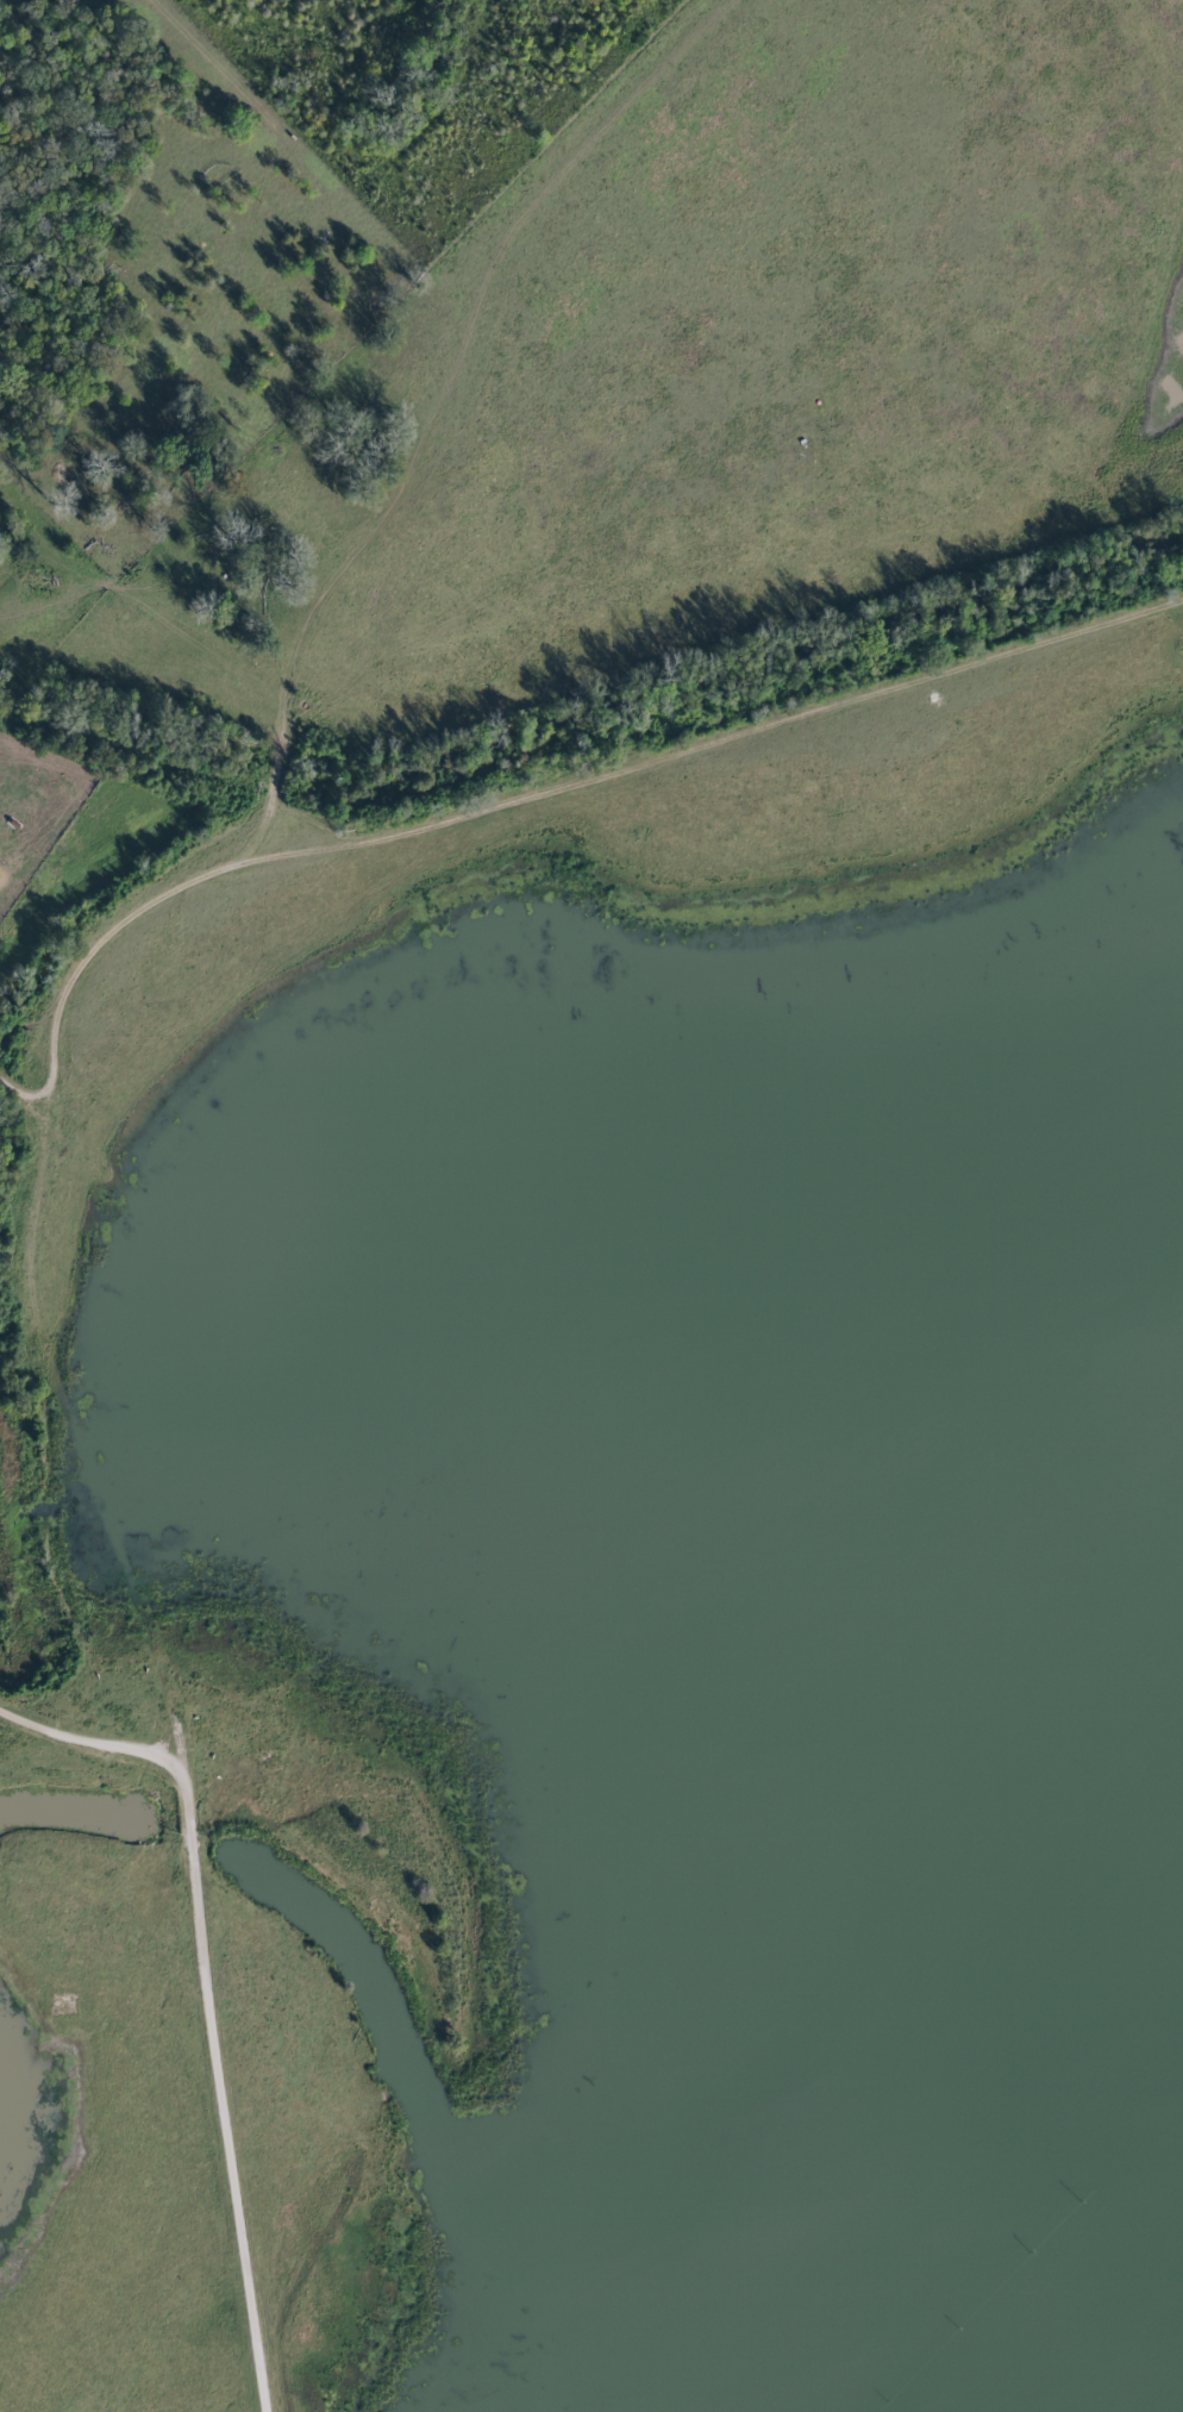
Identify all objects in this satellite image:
road: (202, 2002)

